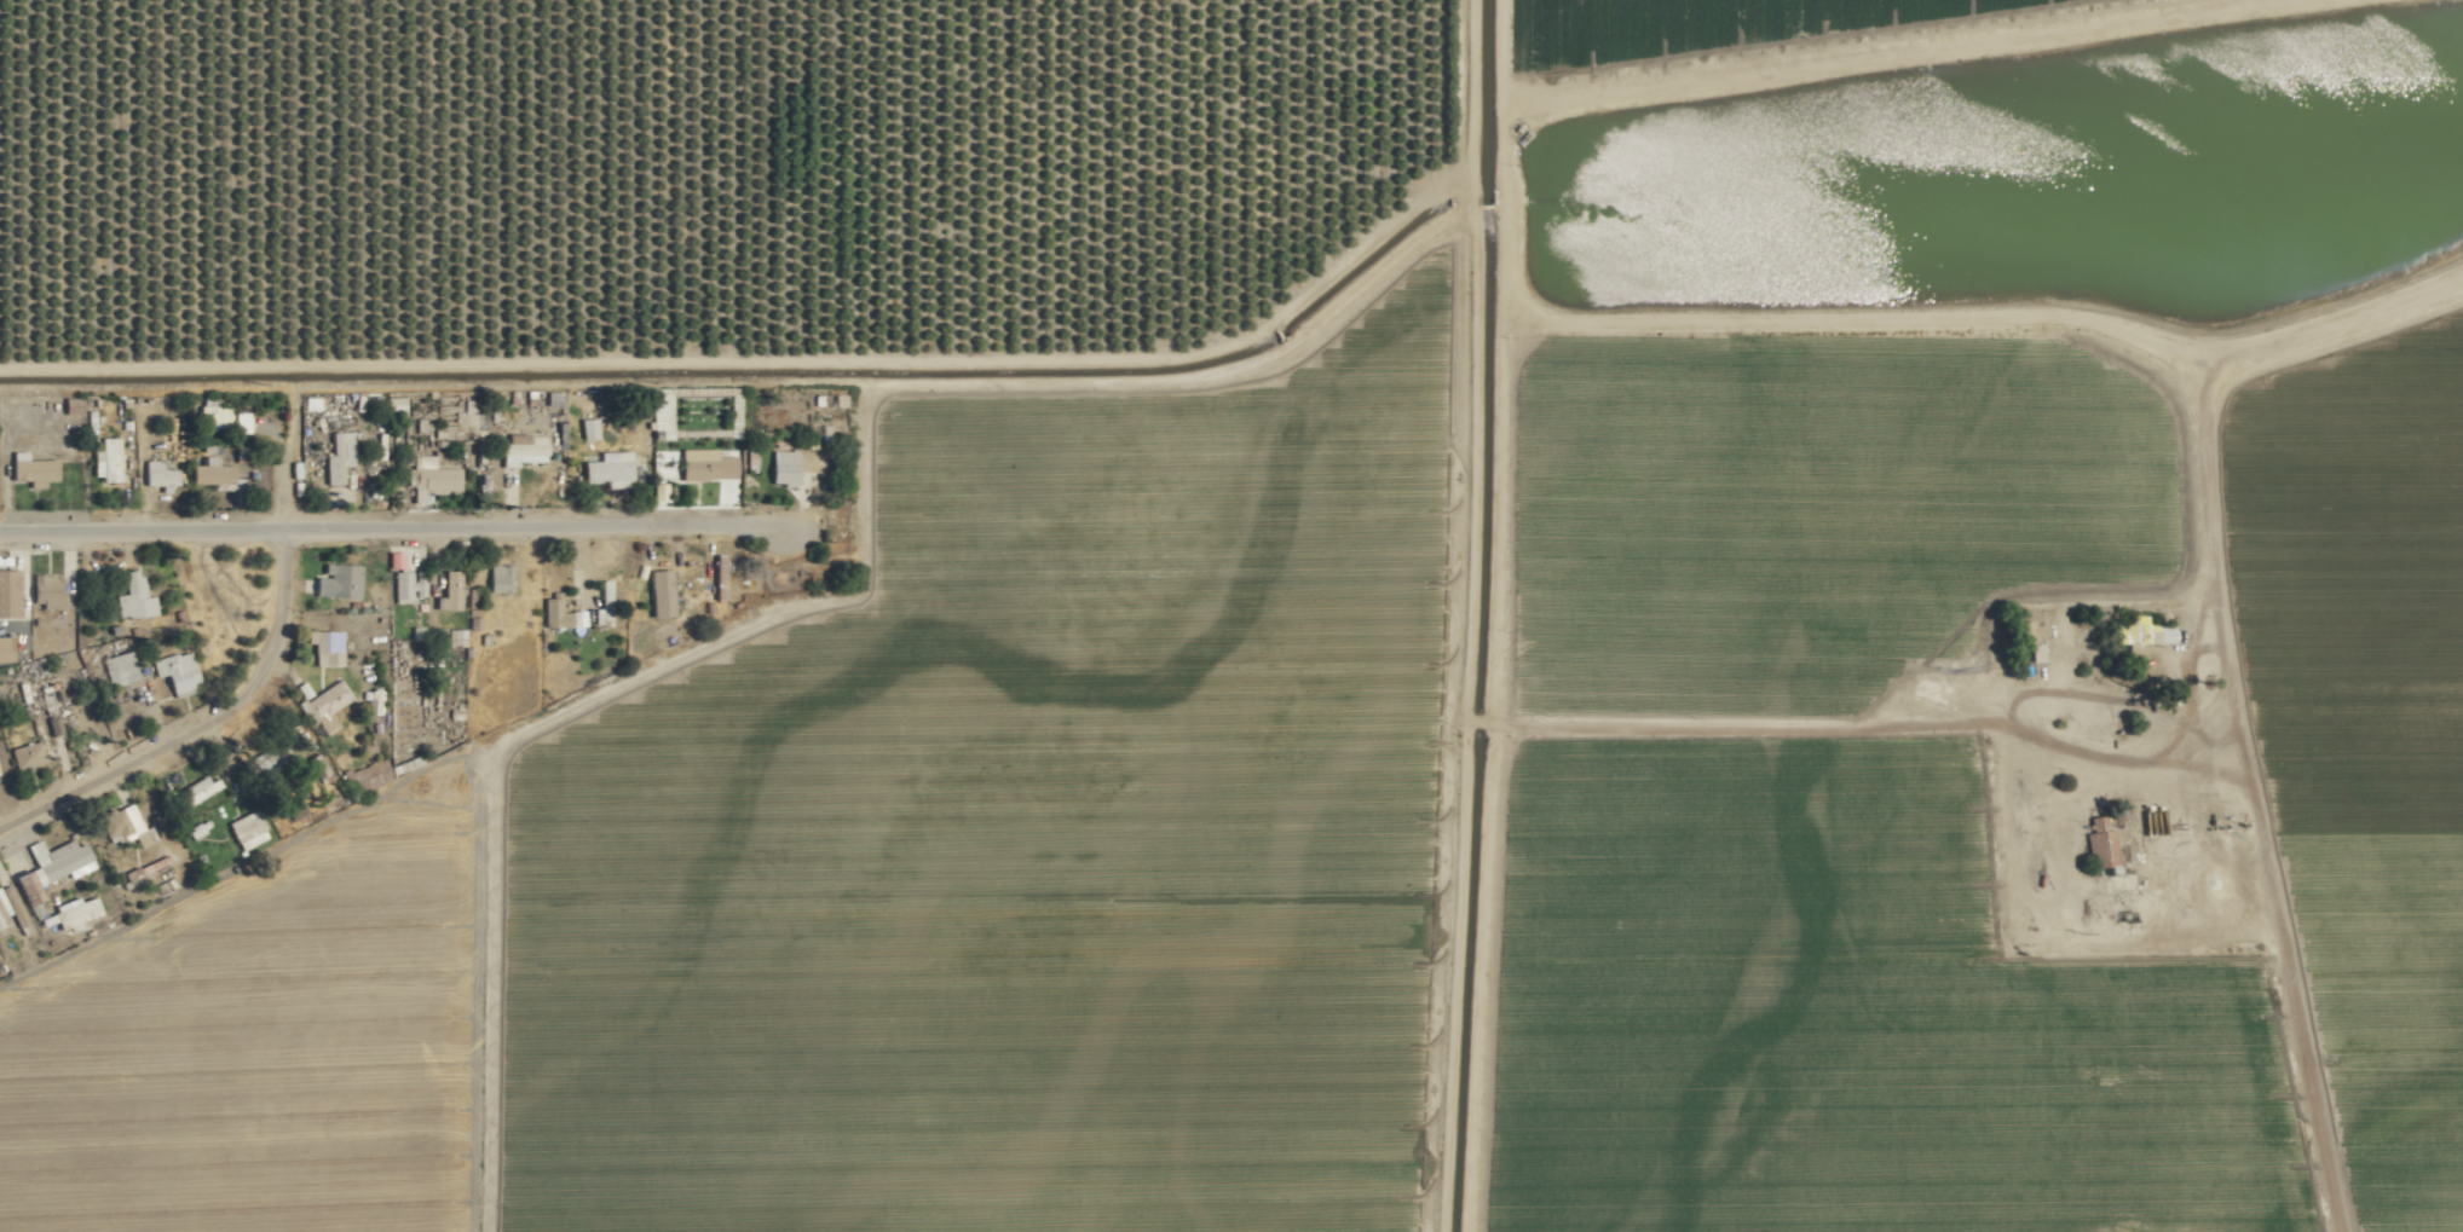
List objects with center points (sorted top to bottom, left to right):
road: (2222, 384)
building: (394, 406)
building: (241, 422)
building: (589, 428)
building: (524, 449)
building: (339, 456)
building: (106, 459)
road: (282, 463)
building: (706, 464)
building: (785, 467)
building: (33, 468)
building: (610, 469)
building: (212, 472)
building: (160, 474)
building: (431, 474)
road: (390, 530)
building: (720, 568)
building: (501, 578)
building: (339, 580)
building: (408, 585)
building: (451, 590)
building: (46, 591)
building: (8, 592)
building: (662, 592)
building: (134, 597)
building: (604, 603)
building: (555, 612)
building: (2144, 631)
building: (456, 636)
building: (327, 647)
building: (6, 648)
building: (120, 669)
building: (177, 670)
building: (324, 704)
building: (54, 725)
road: (202, 725)
building: (27, 756)
building: (405, 757)
building: (318, 767)
building: (368, 774)
building: (201, 787)
building: (296, 811)
building: (126, 825)
building: (248, 829)
building: (2103, 845)
building: (59, 860)
building: (146, 871)
building: (29, 890)
building: (11, 909)
building: (76, 910)

